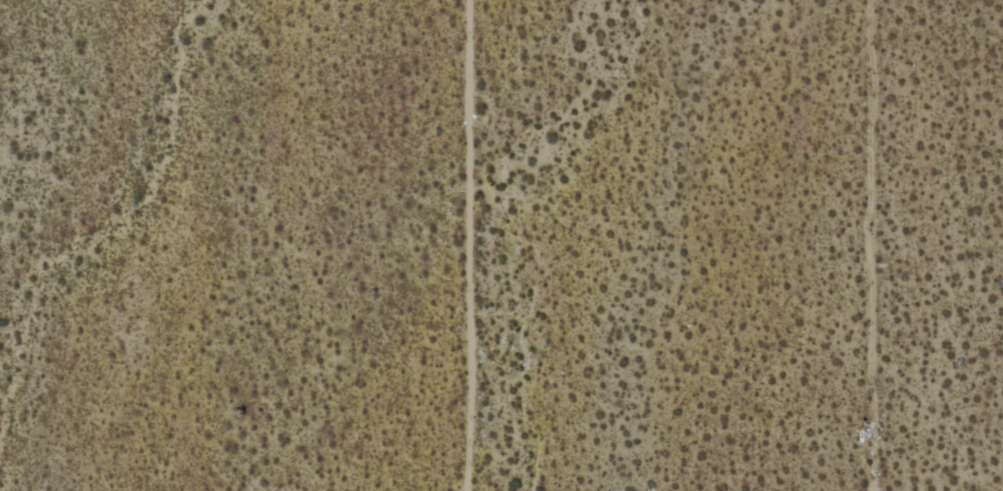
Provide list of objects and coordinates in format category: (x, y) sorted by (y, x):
road: (460, 245)

